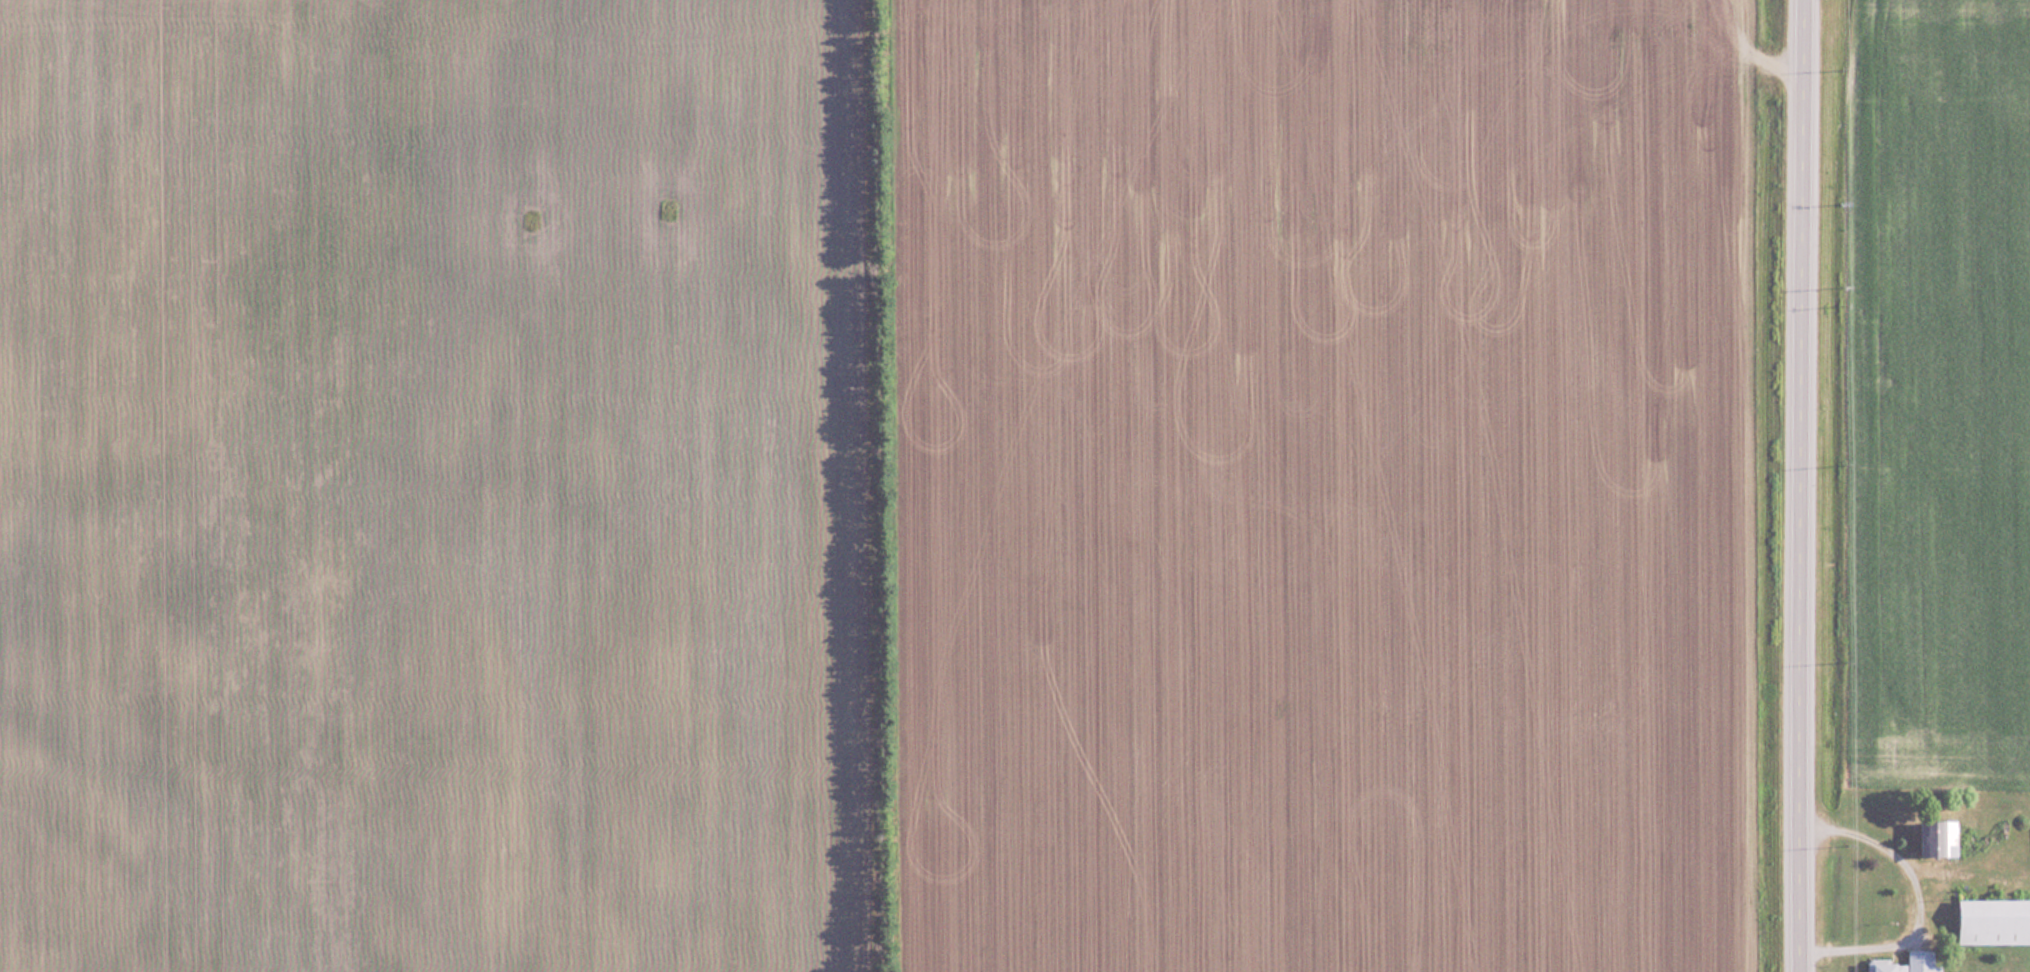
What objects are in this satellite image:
road: (1793, 485)
building: (1937, 838)
road: (1913, 896)
building: (1995, 922)
building: (1908, 963)

